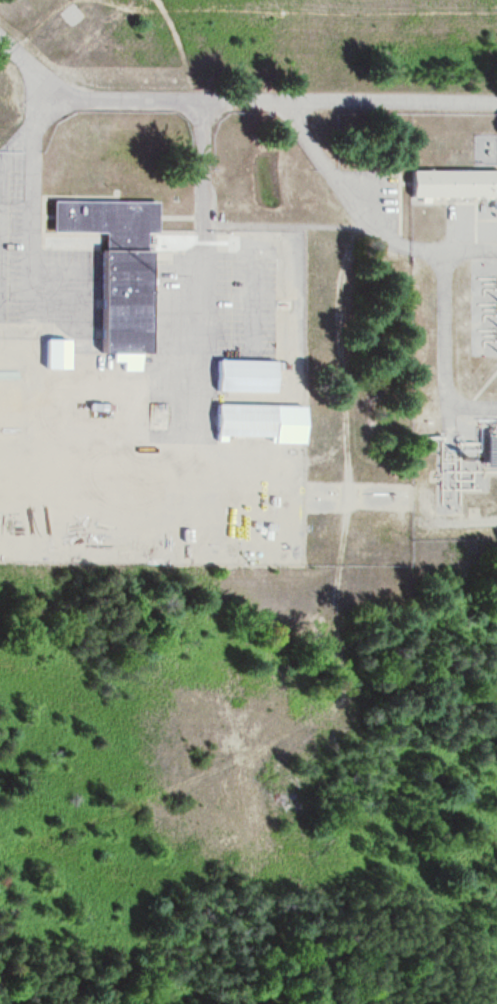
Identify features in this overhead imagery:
road: (238, 113)
building: (451, 185)
building: (115, 271)
building: (54, 355)
building: (243, 376)
building: (256, 424)
building: (487, 451)

